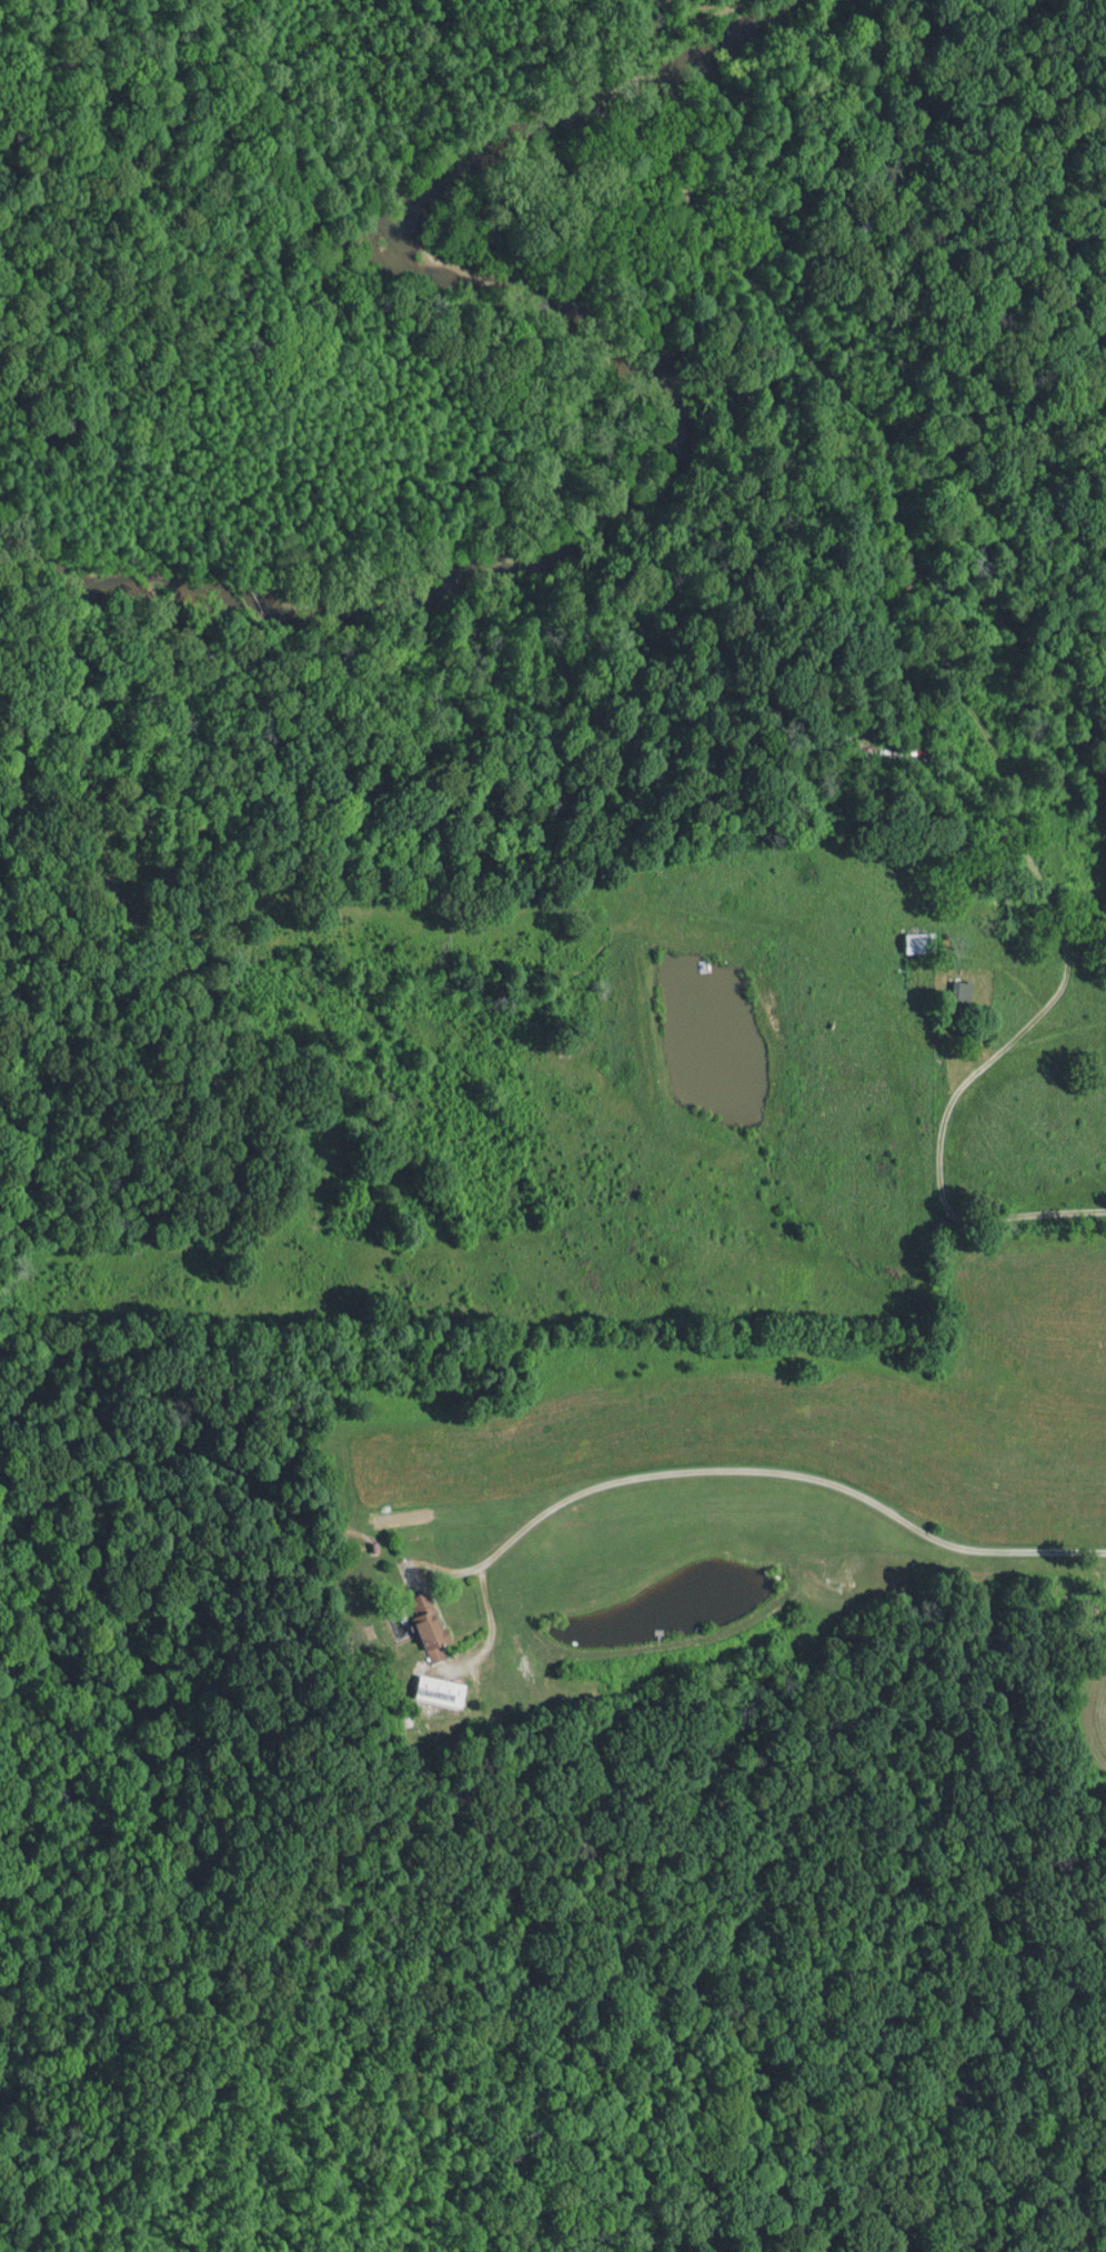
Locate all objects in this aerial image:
building: (430, 1624)
building: (443, 1691)

